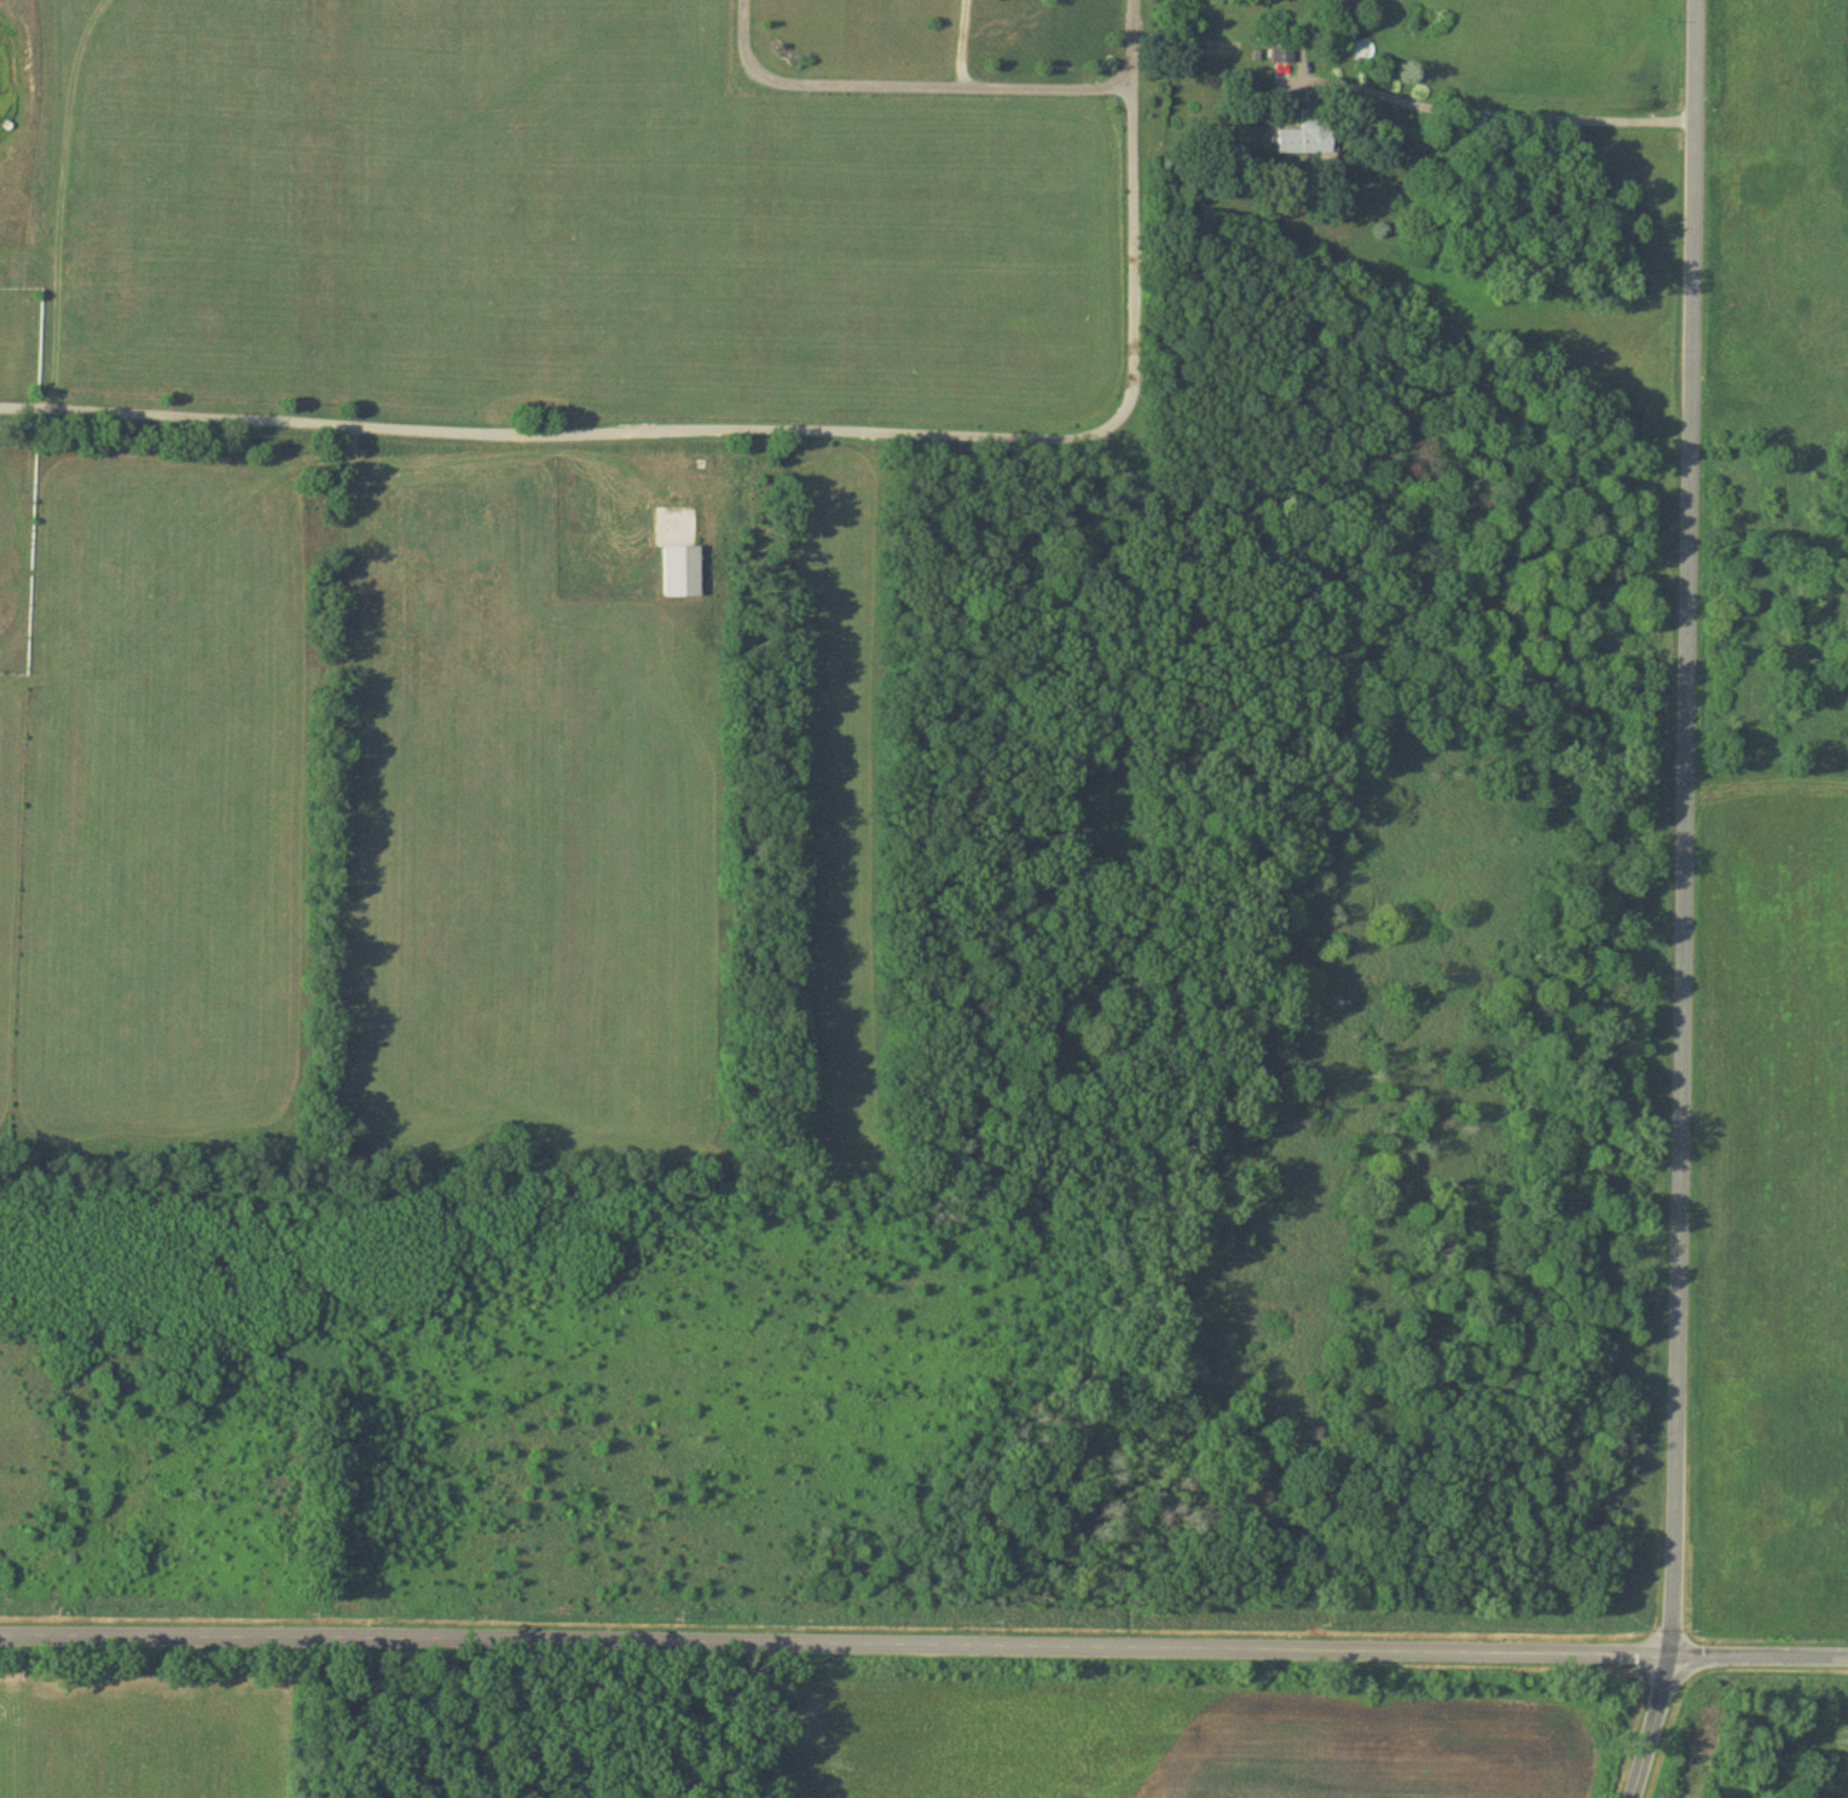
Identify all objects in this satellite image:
road: (962, 41)
road: (909, 82)
road: (1535, 111)
road: (771, 423)
building: (682, 572)
road: (1679, 825)
road: (923, 1642)
road: (1650, 1724)

